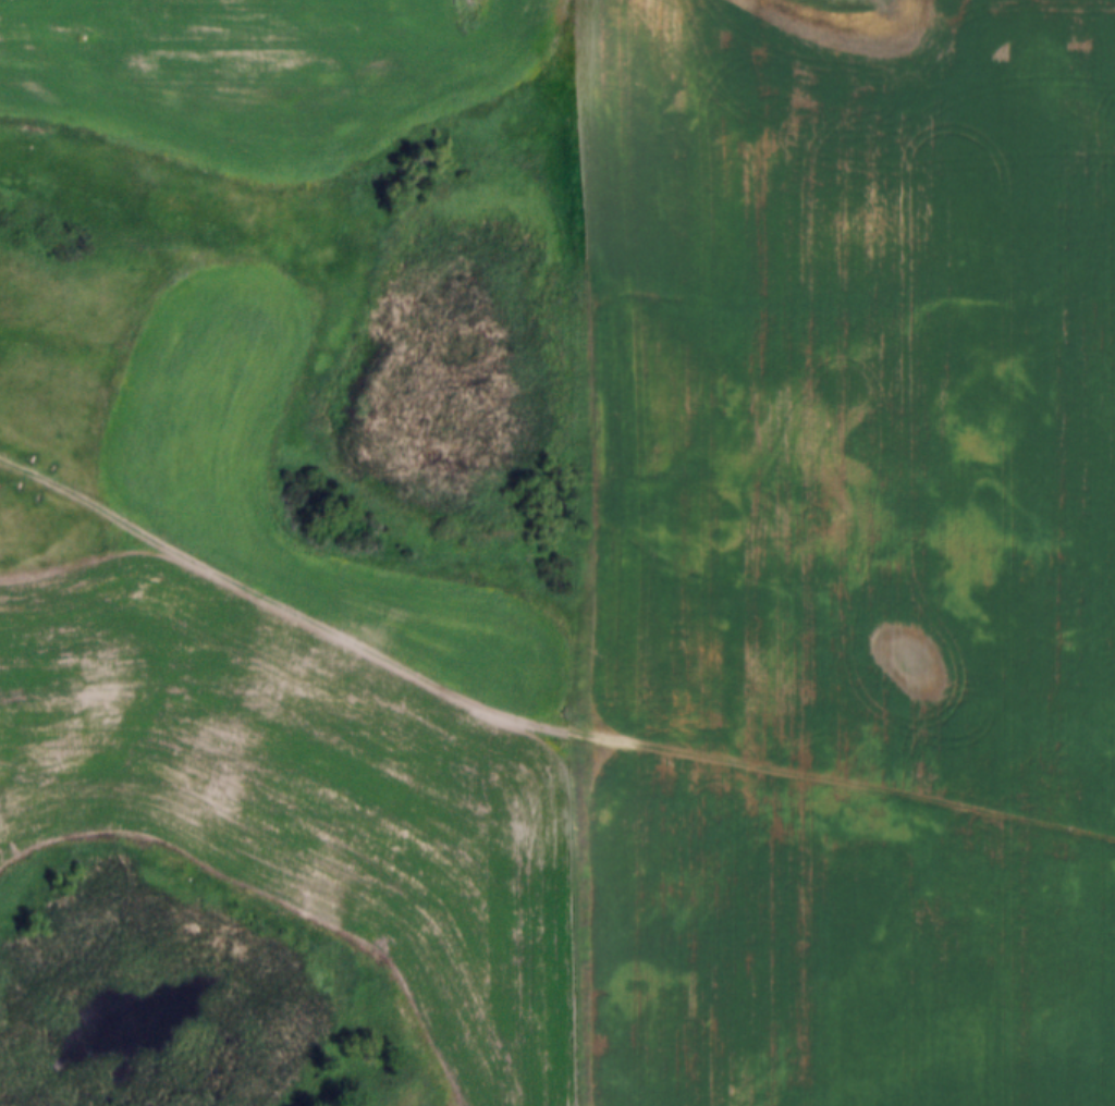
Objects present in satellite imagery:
road: (679, 712)

